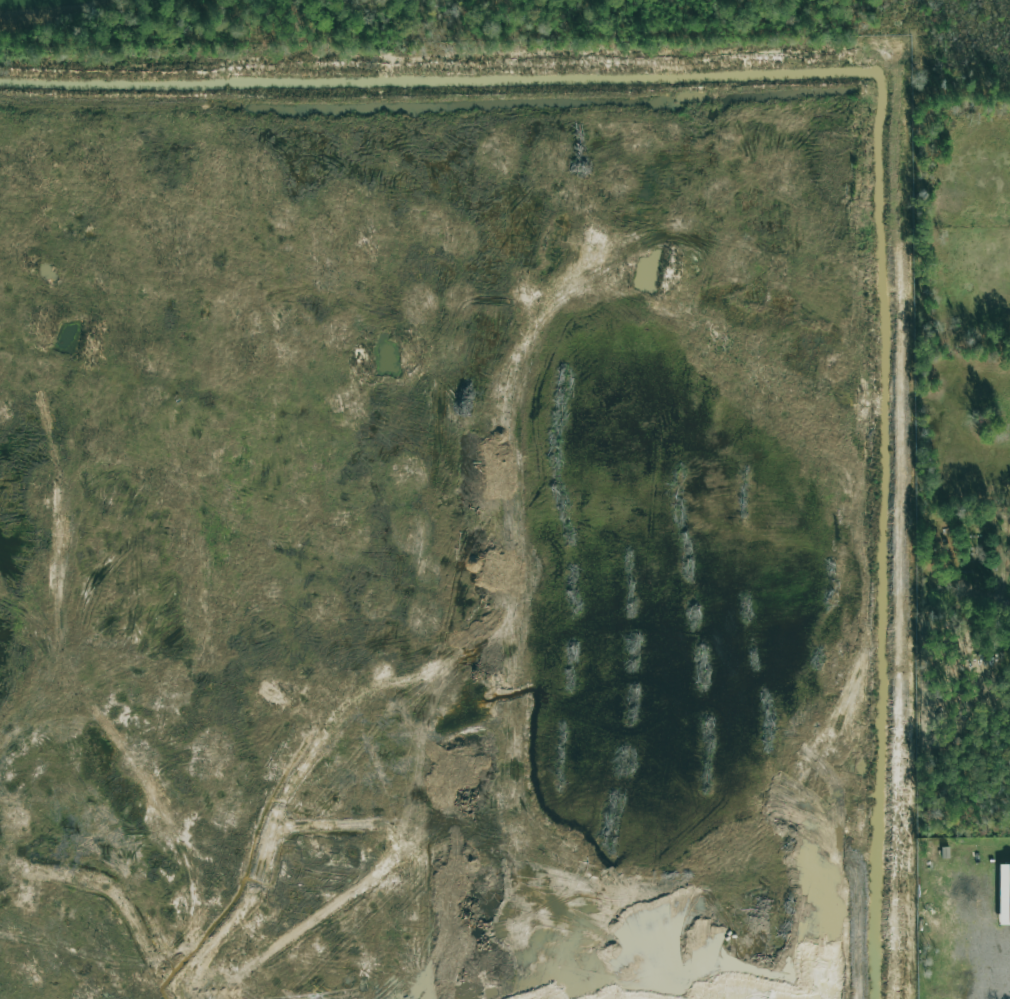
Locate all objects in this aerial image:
building: (1004, 895)

